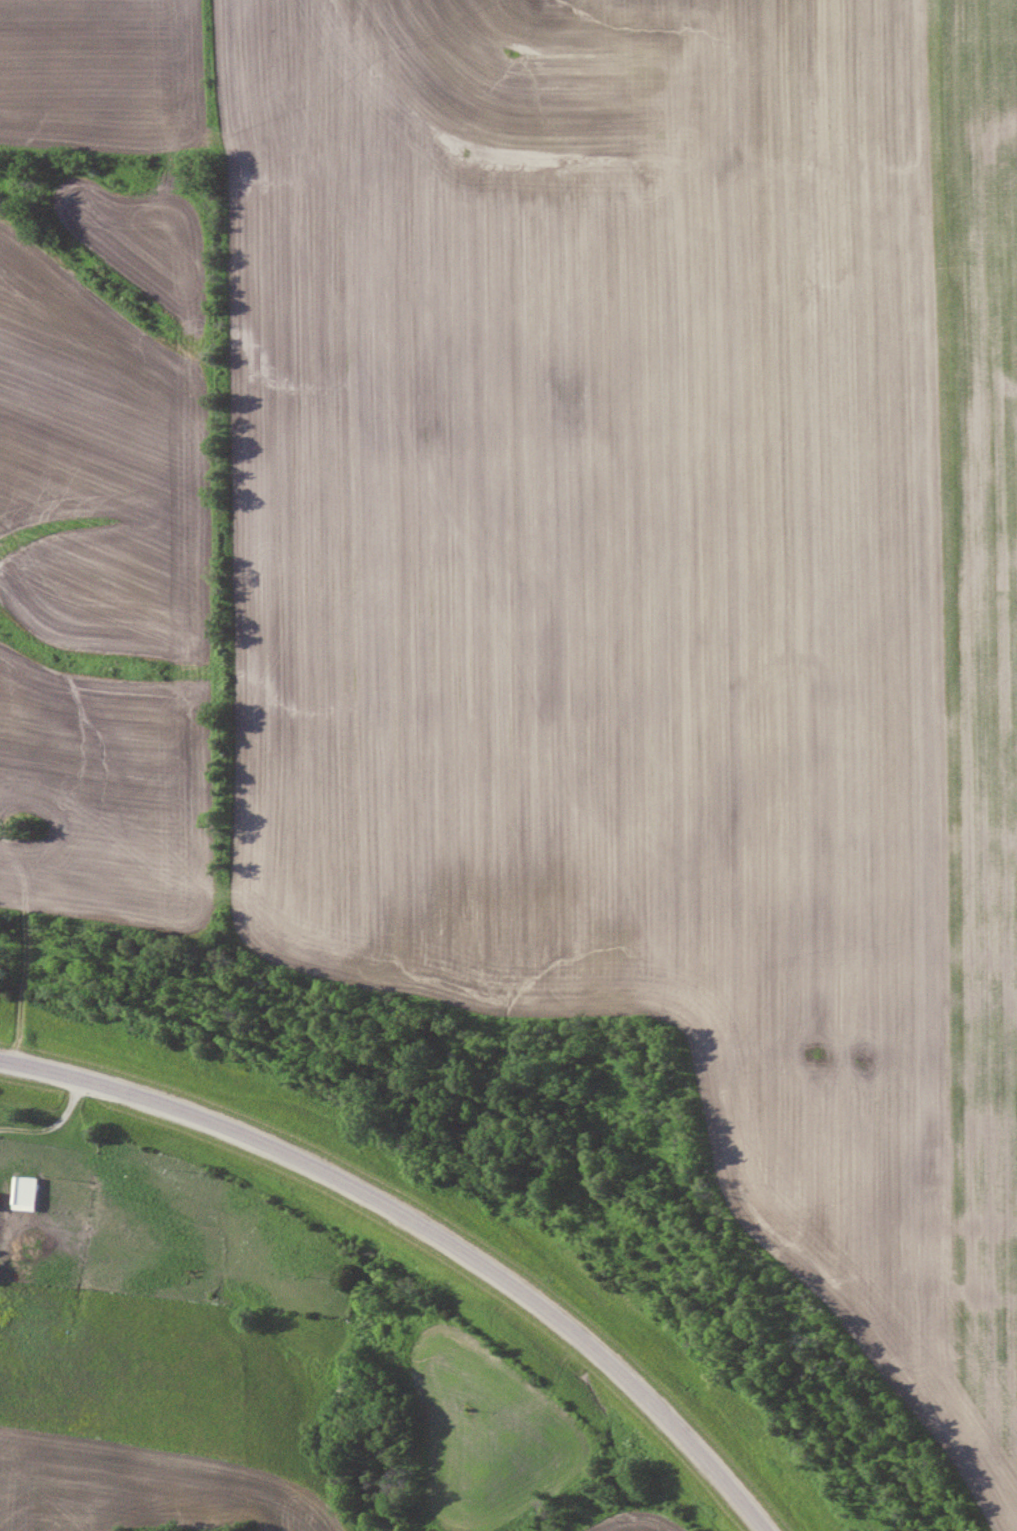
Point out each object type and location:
road: (52, 1123)
building: (28, 1193)
road: (425, 1226)

